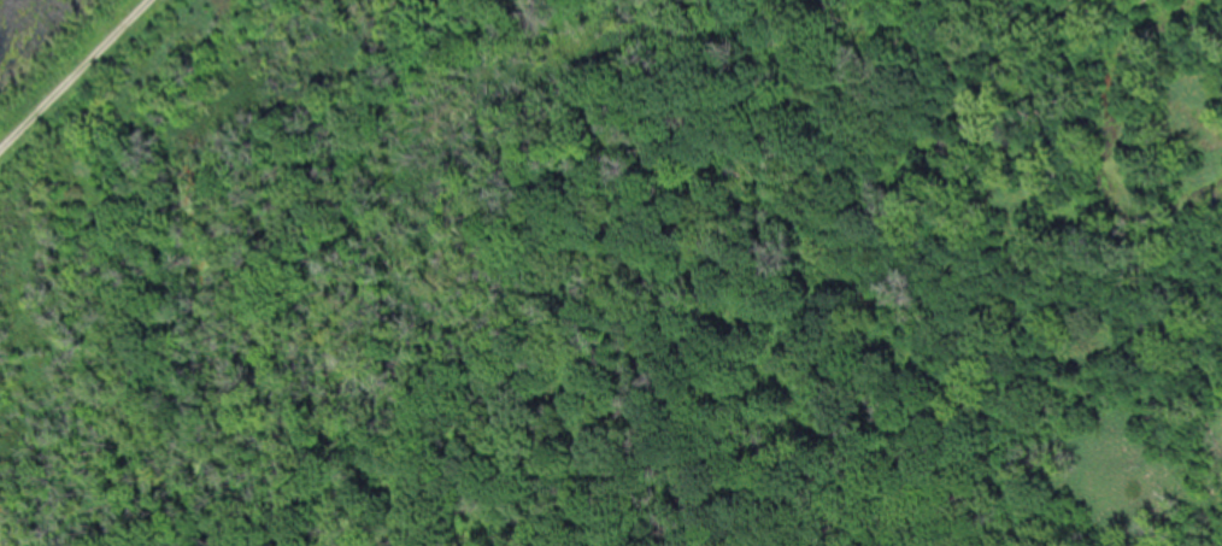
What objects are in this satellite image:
road: (76, 77)

